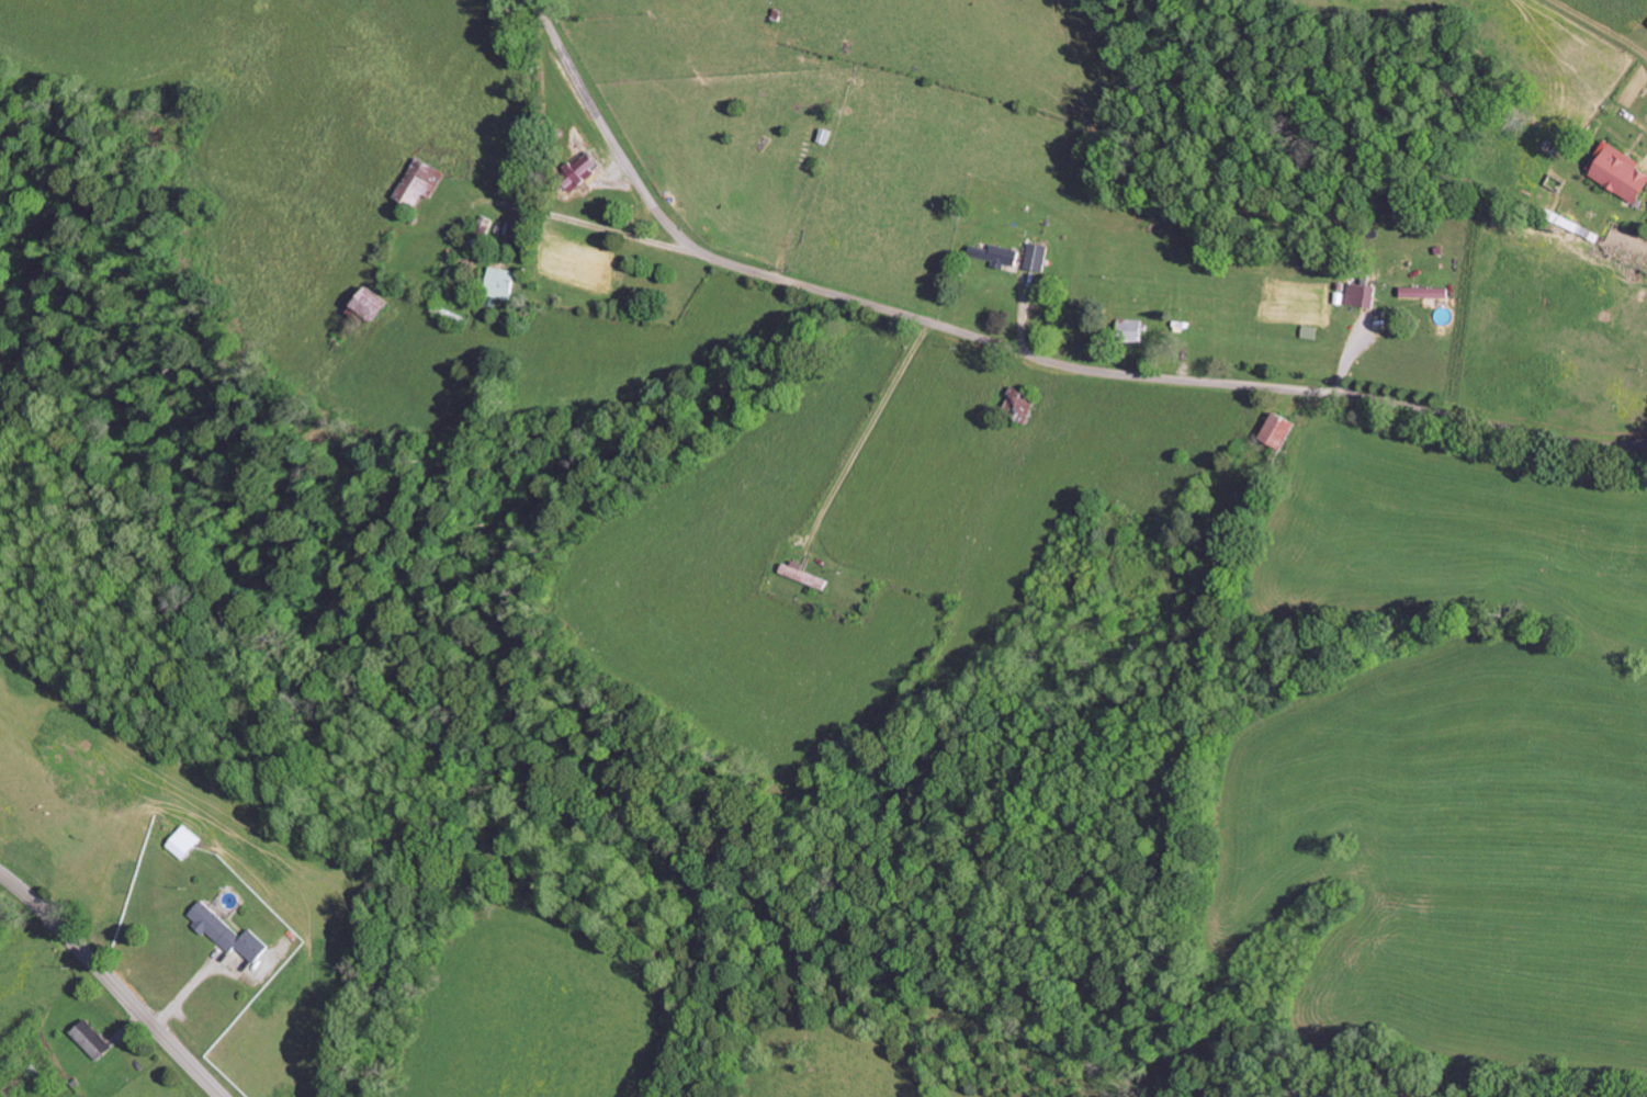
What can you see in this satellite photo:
road: (591, 106)
building: (579, 170)
building: (1617, 170)
building: (417, 181)
road: (588, 224)
building: (997, 252)
building: (1036, 256)
building: (497, 281)
building: (1423, 291)
building: (1360, 293)
building: (368, 302)
building: (1129, 329)
road: (1137, 376)
building: (1277, 428)
building: (801, 574)
building: (182, 841)
building: (226, 932)
road: (113, 983)
building: (92, 1039)

